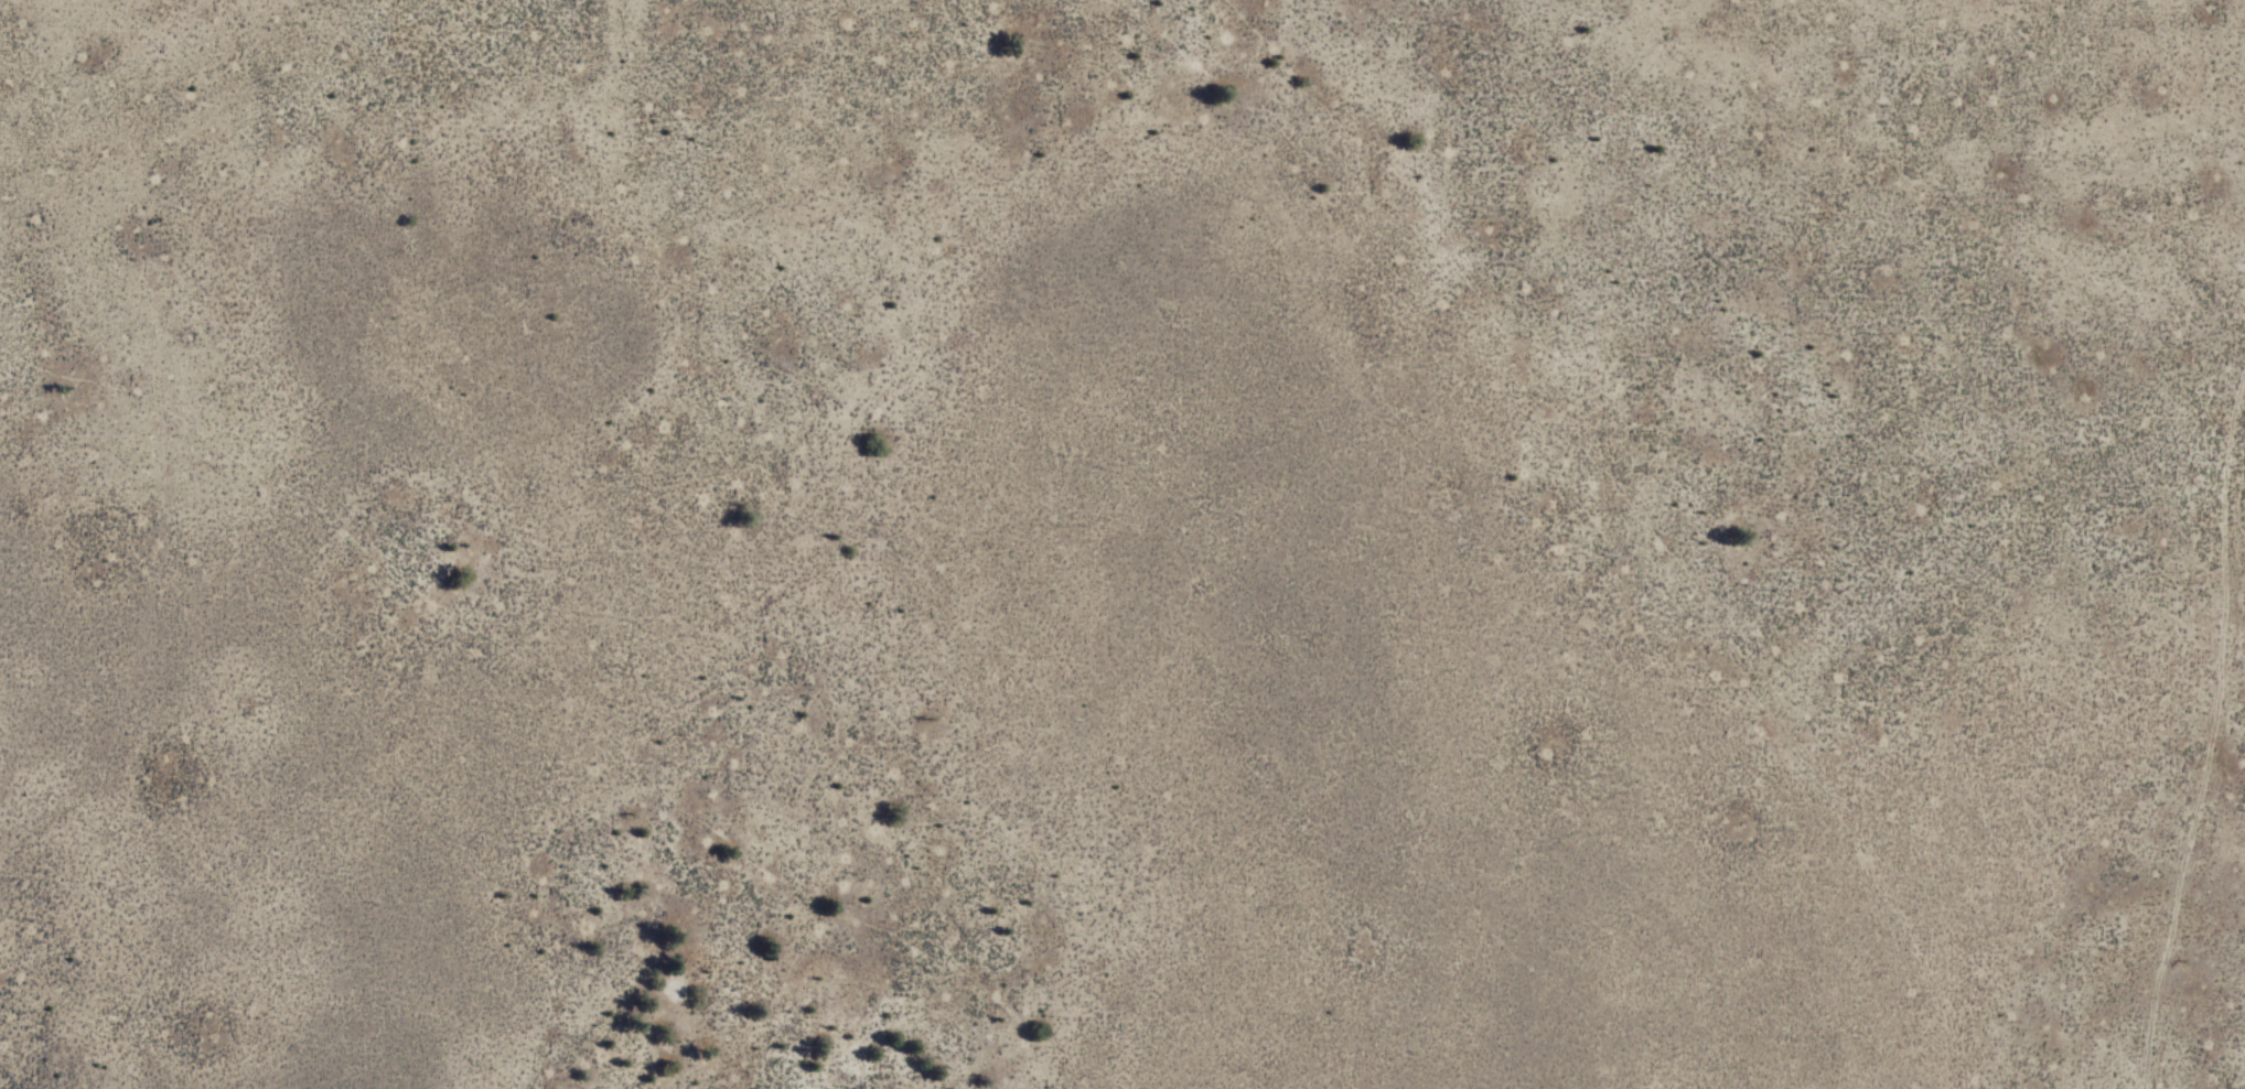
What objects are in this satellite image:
road: (2215, 737)

